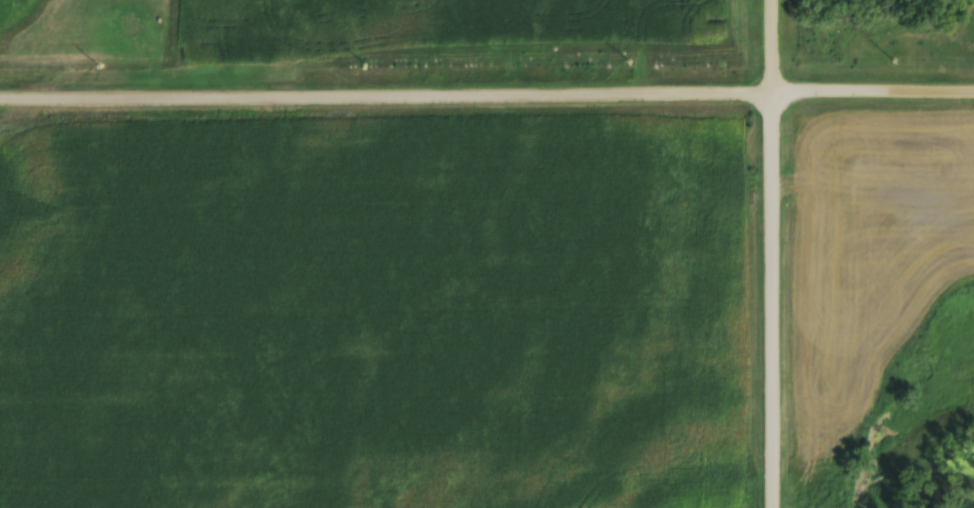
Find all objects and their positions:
road: (774, 45)
road: (486, 92)
road: (775, 299)

